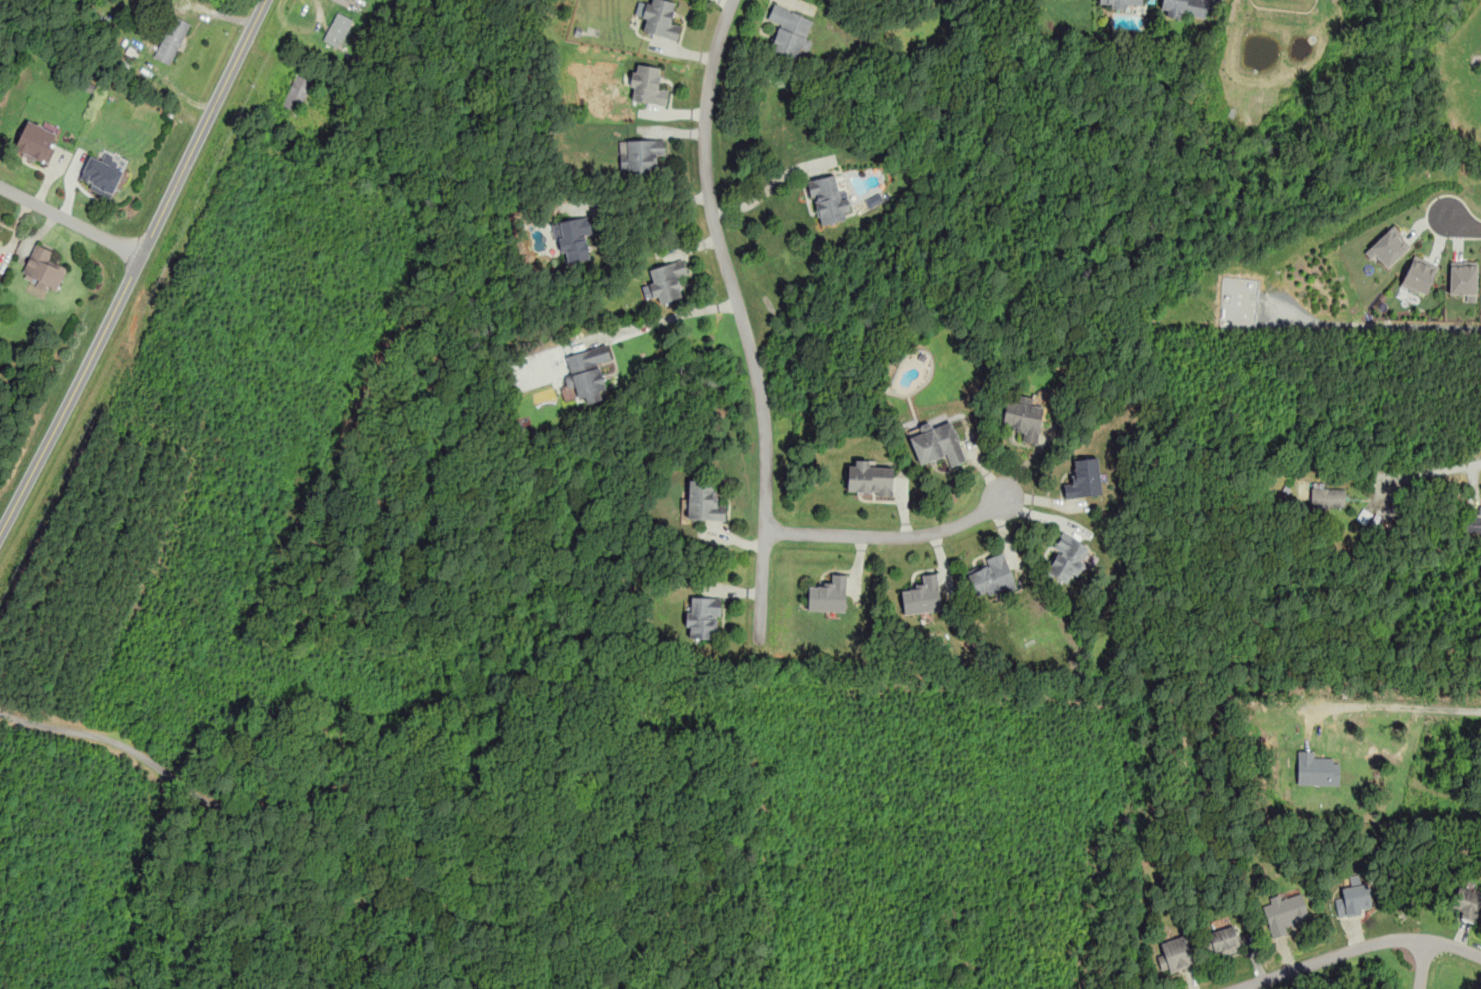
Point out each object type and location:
building: (1120, 3)
building: (1184, 8)
building: (660, 19)
building: (338, 29)
building: (789, 31)
building: (172, 39)
building: (646, 84)
building: (296, 92)
building: (37, 141)
building: (640, 157)
building: (100, 174)
road: (764, 189)
building: (828, 200)
building: (874, 200)
road: (643, 204)
road: (70, 220)
road: (1463, 223)
building: (0, 227)
building: (573, 241)
building: (1387, 247)
road: (134, 267)
building: (43, 269)
building: (1418, 274)
building: (1463, 279)
building: (666, 280)
road: (677, 312)
road: (739, 314)
building: (587, 372)
building: (1023, 417)
building: (937, 444)
road: (1434, 473)
building: (868, 478)
building: (1083, 478)
building: (1327, 495)
building: (703, 501)
building: (1479, 515)
road: (888, 536)
building: (1067, 558)
building: (991, 575)
building: (827, 594)
building: (922, 595)
building: (702, 617)
road: (1397, 707)
building: (1316, 769)
road: (398, 811)
building: (1353, 900)
building: (1467, 903)
building: (1284, 912)
building: (1220, 940)
road: (1355, 948)
building: (1175, 954)
road: (1421, 963)

